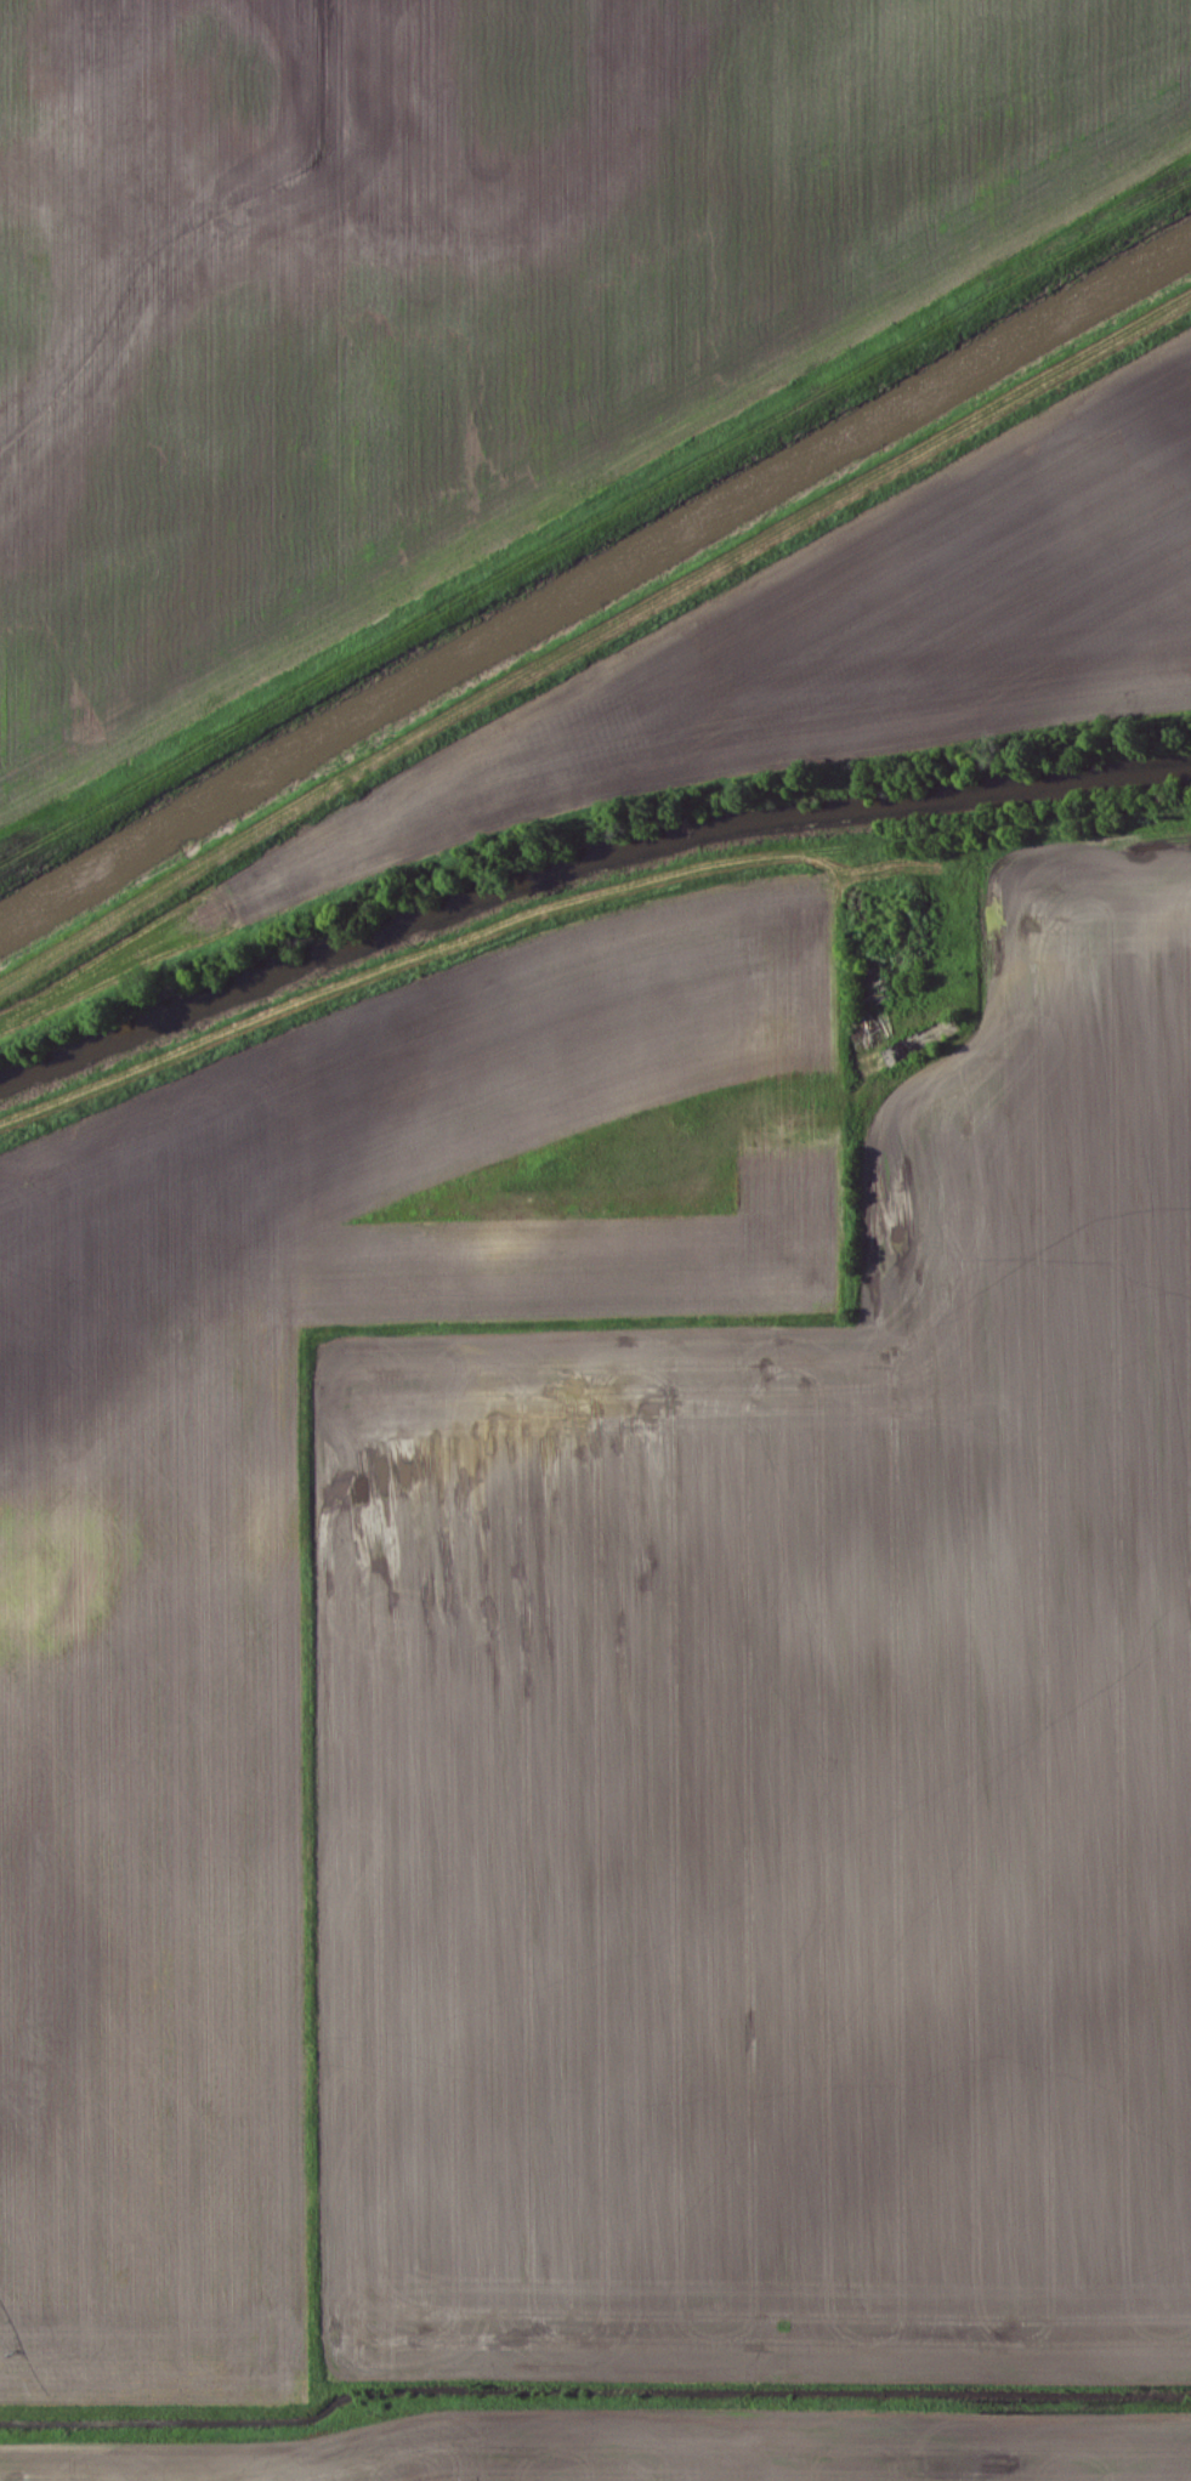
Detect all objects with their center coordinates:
road: (1064, 834)

